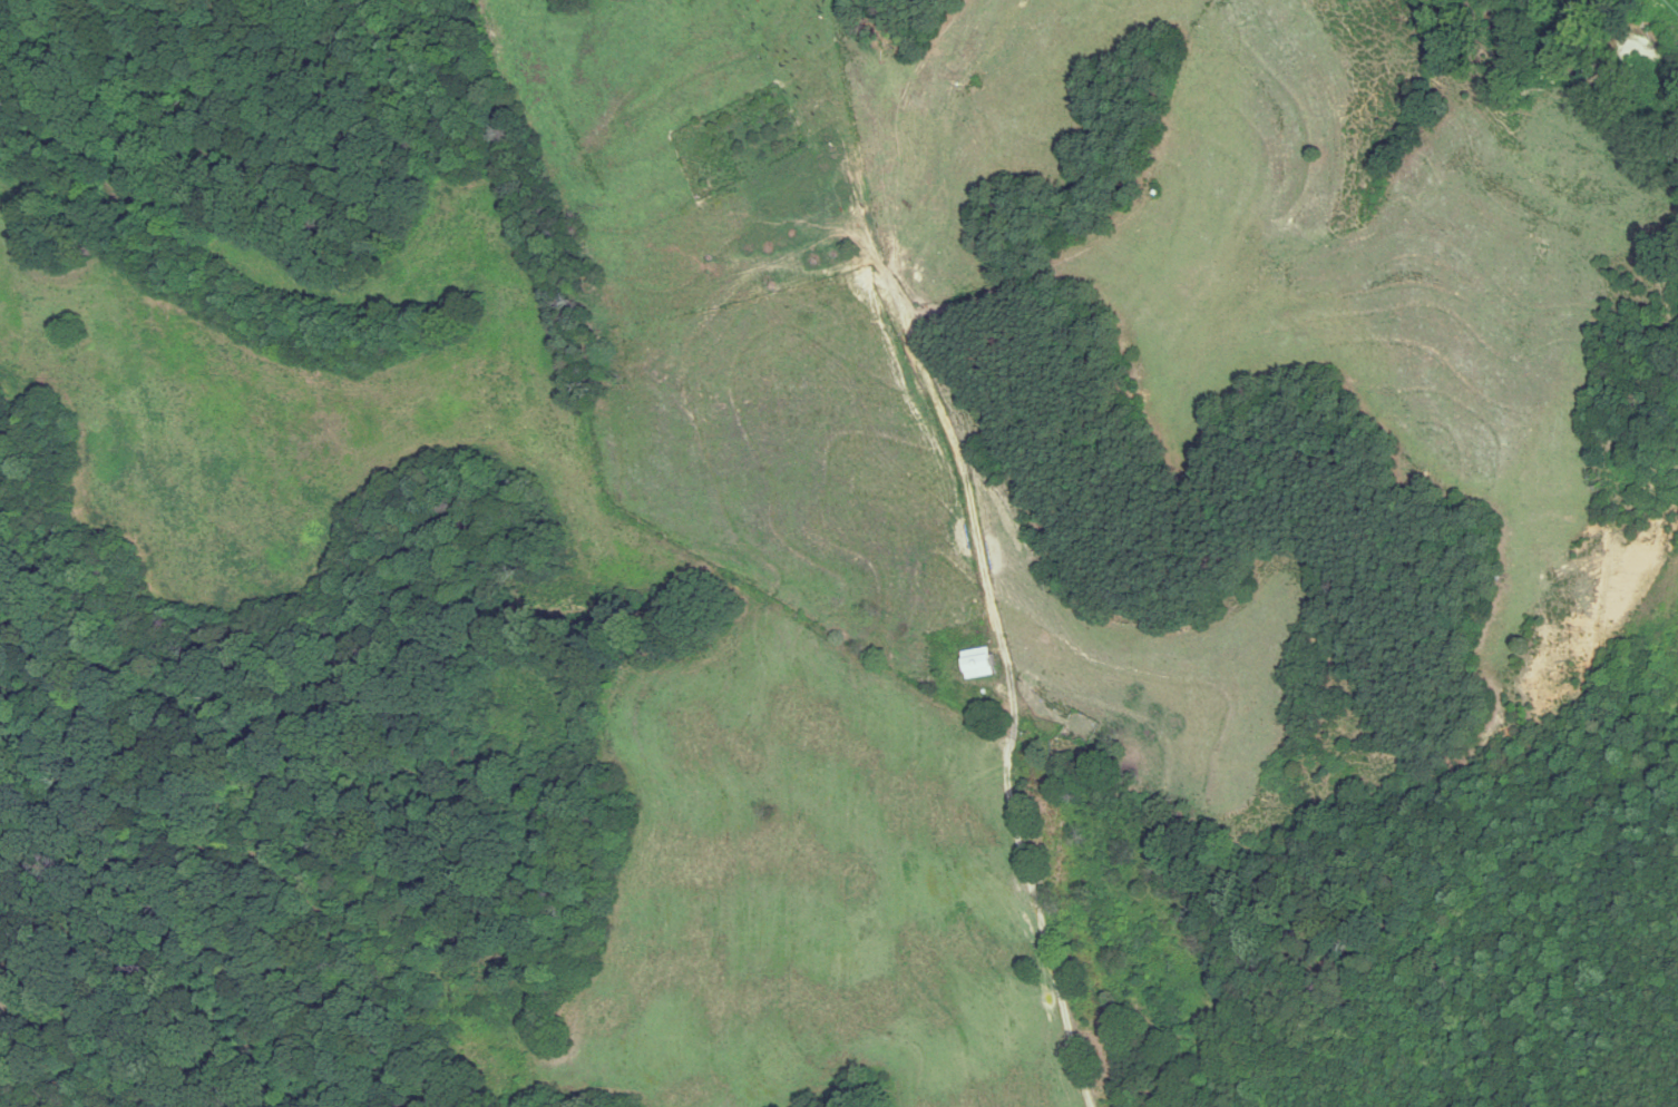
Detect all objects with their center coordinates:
building: (981, 664)

